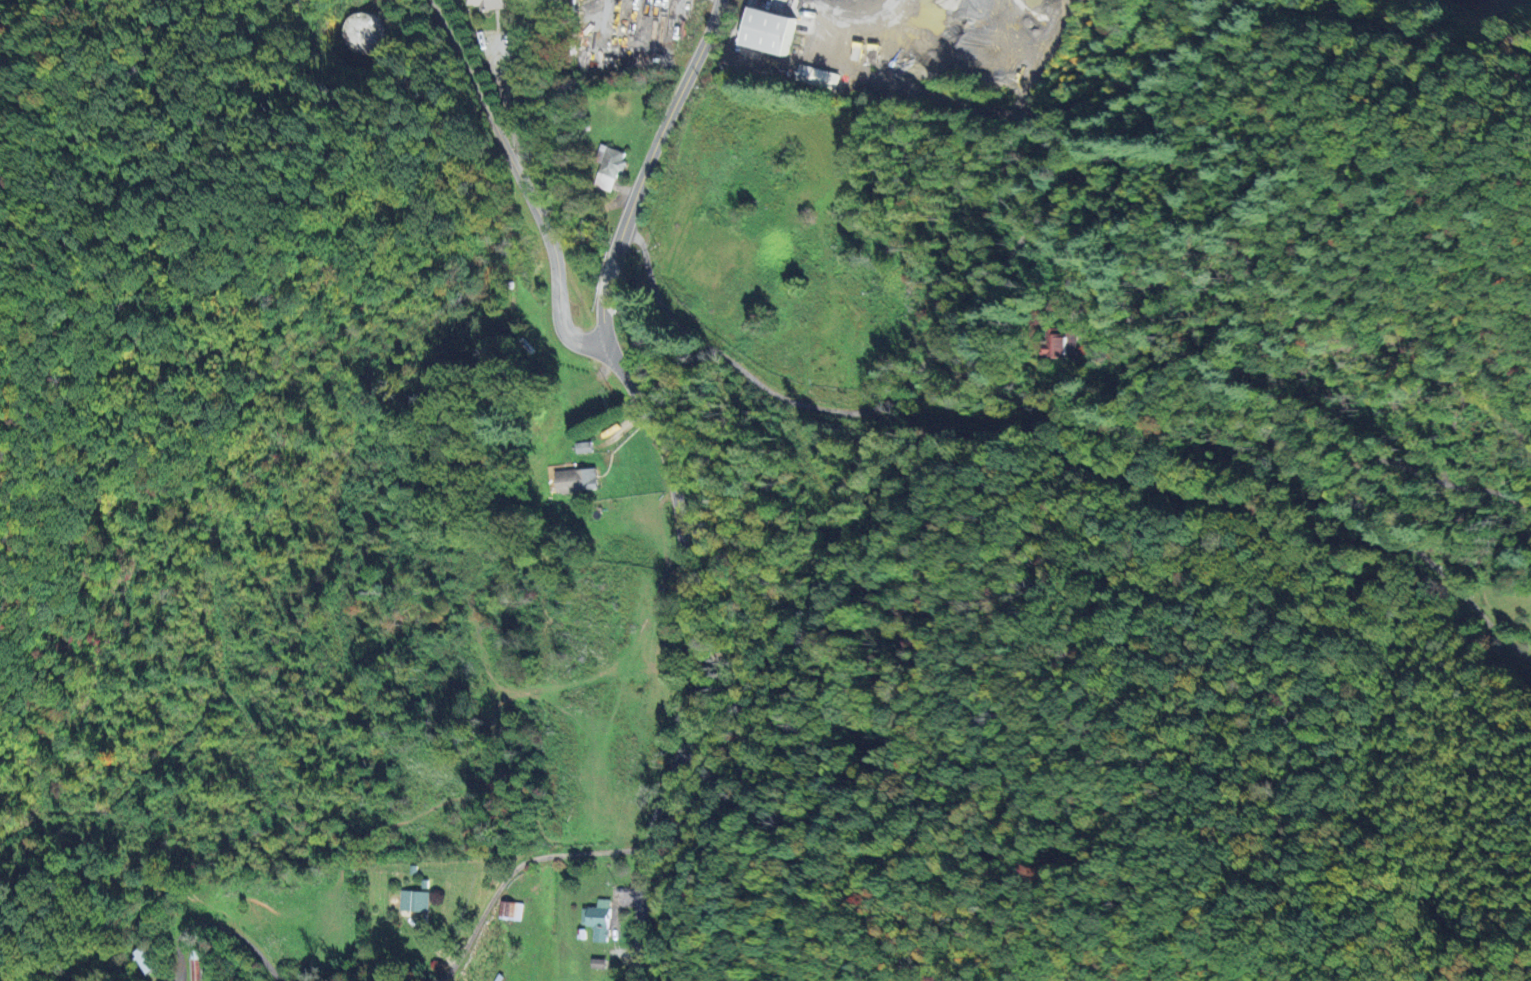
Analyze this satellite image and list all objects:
building: (484, 4)
building: (764, 32)
building: (364, 33)
road: (930, 62)
building: (816, 78)
road: (668, 118)
building: (607, 167)
road: (521, 180)
road: (612, 272)
road: (601, 325)
road: (945, 341)
building: (1060, 341)
building: (582, 447)
road: (1373, 452)
building: (574, 480)
road: (1378, 519)
road: (700, 657)
road: (511, 869)
building: (414, 901)
building: (509, 910)
building: (596, 920)
road: (241, 935)
building: (145, 961)
road: (178, 961)
building: (597, 963)
building: (197, 966)

